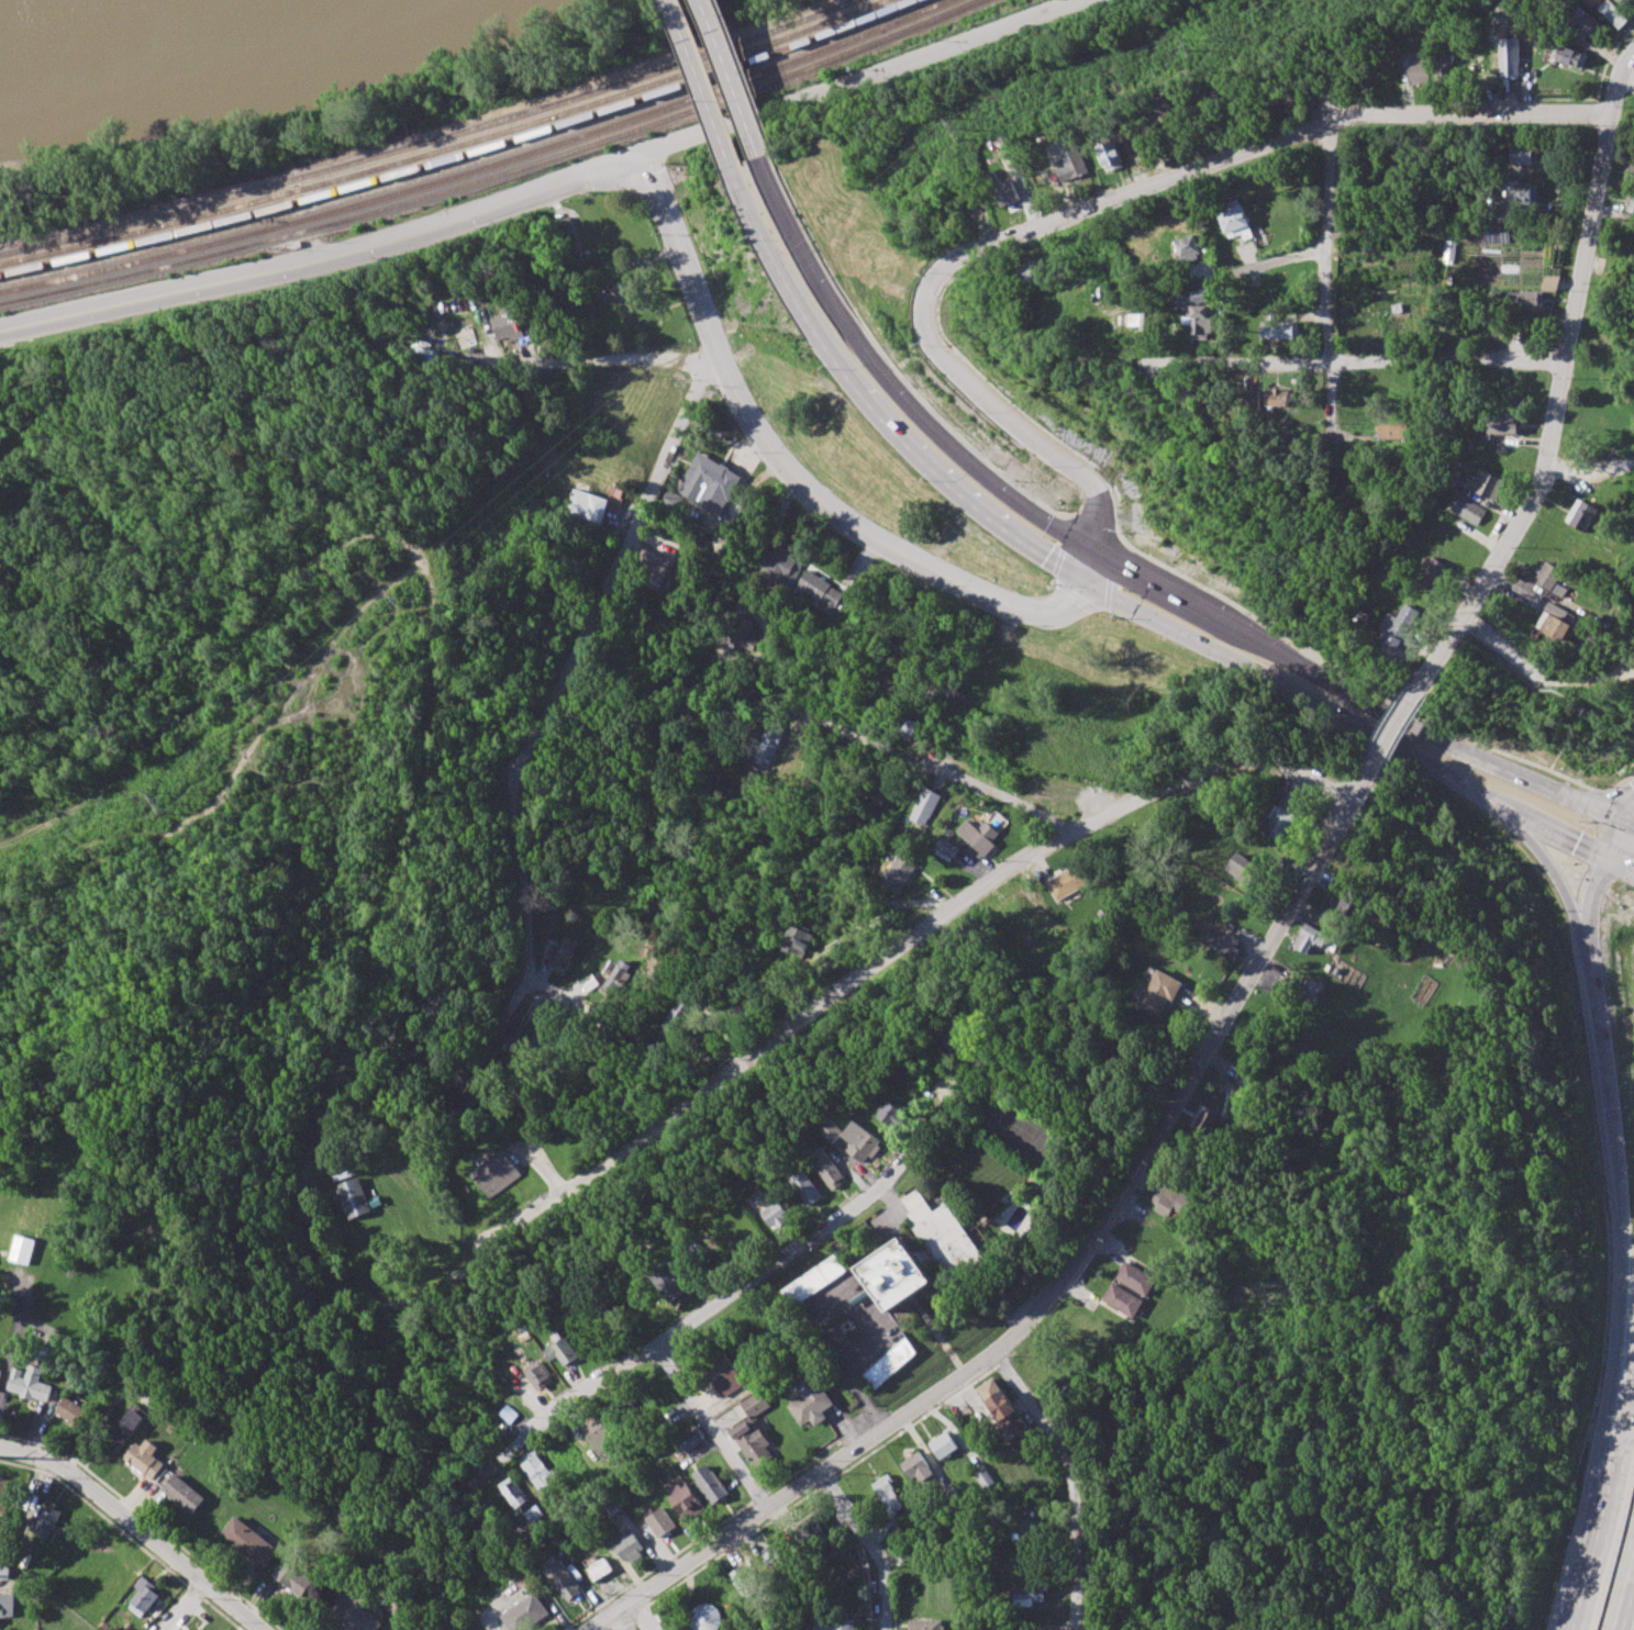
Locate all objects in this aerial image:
building: (1621, 0)
building: (1596, 2)
river: (27, 9)
building: (1614, 13)
building: (1589, 24)
power tower: (1194, 51)
building: (1569, 56)
building: (1510, 57)
building: (1446, 65)
building: (1420, 67)
road: (746, 78)
road: (860, 79)
road: (735, 80)
road: (707, 86)
railway: (559, 102)
railway: (575, 109)
building: (1164, 110)
railway: (591, 114)
railway: (611, 126)
power tower: (963, 130)
railway: (629, 131)
building: (1519, 153)
building: (1111, 156)
building: (1074, 165)
building: (1630, 168)
road: (645, 178)
building: (1004, 192)
building: (1522, 193)
road: (1104, 197)
building: (1631, 202)
building: (1237, 221)
railway: (130, 223)
railway: (131, 234)
railway: (133, 244)
building: (1188, 247)
road: (1286, 256)
railway: (134, 263)
building: (1027, 271)
railway: (136, 272)
building: (1550, 283)
road: (1333, 284)
building: (623, 290)
building: (1193, 297)
building: (1527, 299)
building: (1141, 321)
building: (1201, 321)
building: (508, 324)
building: (1280, 330)
road: (620, 359)
road: (1365, 360)
road: (891, 365)
road: (1561, 371)
road: (891, 386)
building: (1254, 397)
building: (1277, 398)
road: (874, 407)
building: (1503, 424)
building: (1393, 431)
road: (1591, 467)
building: (710, 481)
building: (1486, 484)
building: (585, 506)
building: (1468, 510)
building: (1580, 515)
road: (1092, 524)
traffic signals: (1092, 550)
road: (620, 552)
building: (783, 565)
road: (1089, 565)
building: (652, 570)
building: (1432, 572)
building: (1550, 579)
traffic signals: (1087, 580)
building: (821, 590)
power tower: (405, 600)
building: (1401, 626)
building: (1553, 626)
building: (744, 636)
road: (1541, 673)
road: (1519, 676)
road: (1346, 679)
road: (1352, 693)
road: (1399, 727)
building: (911, 728)
road: (1359, 728)
building: (771, 743)
road: (904, 752)
road: (1550, 763)
road: (1615, 800)
power tower: (160, 802)
building: (926, 807)
road: (1624, 807)
building: (1283, 815)
traffic signals: (1620, 820)
road: (1626, 824)
building: (985, 831)
road: (1525, 833)
road: (1612, 840)
building: (948, 849)
traffic signals: (1605, 860)
building: (1243, 868)
building: (901, 871)
road: (1555, 874)
building: (1068, 882)
building: (1349, 905)
road: (811, 913)
road: (536, 923)
road: (1577, 925)
building: (1309, 938)
building: (796, 940)
building: (1224, 941)
building: (564, 951)
road: (1587, 963)
building: (621, 975)
building: (1159, 993)
building: (956, 1028)
building: (545, 1038)
road: (712, 1087)
building: (892, 1114)
building: (1205, 1121)
building: (854, 1140)
building: (830, 1168)
road: (1611, 1171)
building: (498, 1174)
road: (1385, 1182)
building: (807, 1187)
building: (357, 1198)
building: (1169, 1201)
road: (1276, 1203)
building: (778, 1216)
building: (942, 1232)
building: (23, 1250)
building: (896, 1274)
building: (1136, 1279)
building: (815, 1281)
building: (674, 1283)
road: (1058, 1283)
road: (747, 1284)
building: (1122, 1299)
road: (1625, 1331)
building: (568, 1351)
building: (889, 1363)
building: (543, 1374)
building: (725, 1374)
building: (1, 1376)
road: (849, 1380)
building: (32, 1384)
road: (1633, 1387)
building: (810, 1400)
road: (696, 1405)
building: (1000, 1408)
building: (74, 1411)
building: (514, 1414)
building: (125, 1430)
building: (754, 1431)
building: (603, 1436)
building: (943, 1444)
building: (147, 1458)
building: (916, 1467)
building: (541, 1470)
road: (1066, 1480)
building: (711, 1483)
road: (745, 1488)
building: (516, 1493)
building: (185, 1494)
building: (887, 1495)
building: (5, 1498)
building: (686, 1499)
road: (1609, 1510)
building: (535, 1514)
building: (47, 1521)
building: (662, 1522)
road: (142, 1523)
building: (1029, 1530)
building: (252, 1541)
road: (875, 1542)
building: (630, 1548)
building: (772, 1555)
building: (599, 1566)
building: (4, 1567)
building: (294, 1578)
building: (743, 1578)
building: (565, 1581)
road: (1624, 1593)
building: (1027, 1595)
building: (145, 1597)
building: (7, 1605)
road: (188, 1606)
building: (355, 1611)
building: (526, 1612)
road: (645, 1614)
building: (705, 1617)
building: (834, 1623)
building: (925, 1625)
building: (197, 1629)

